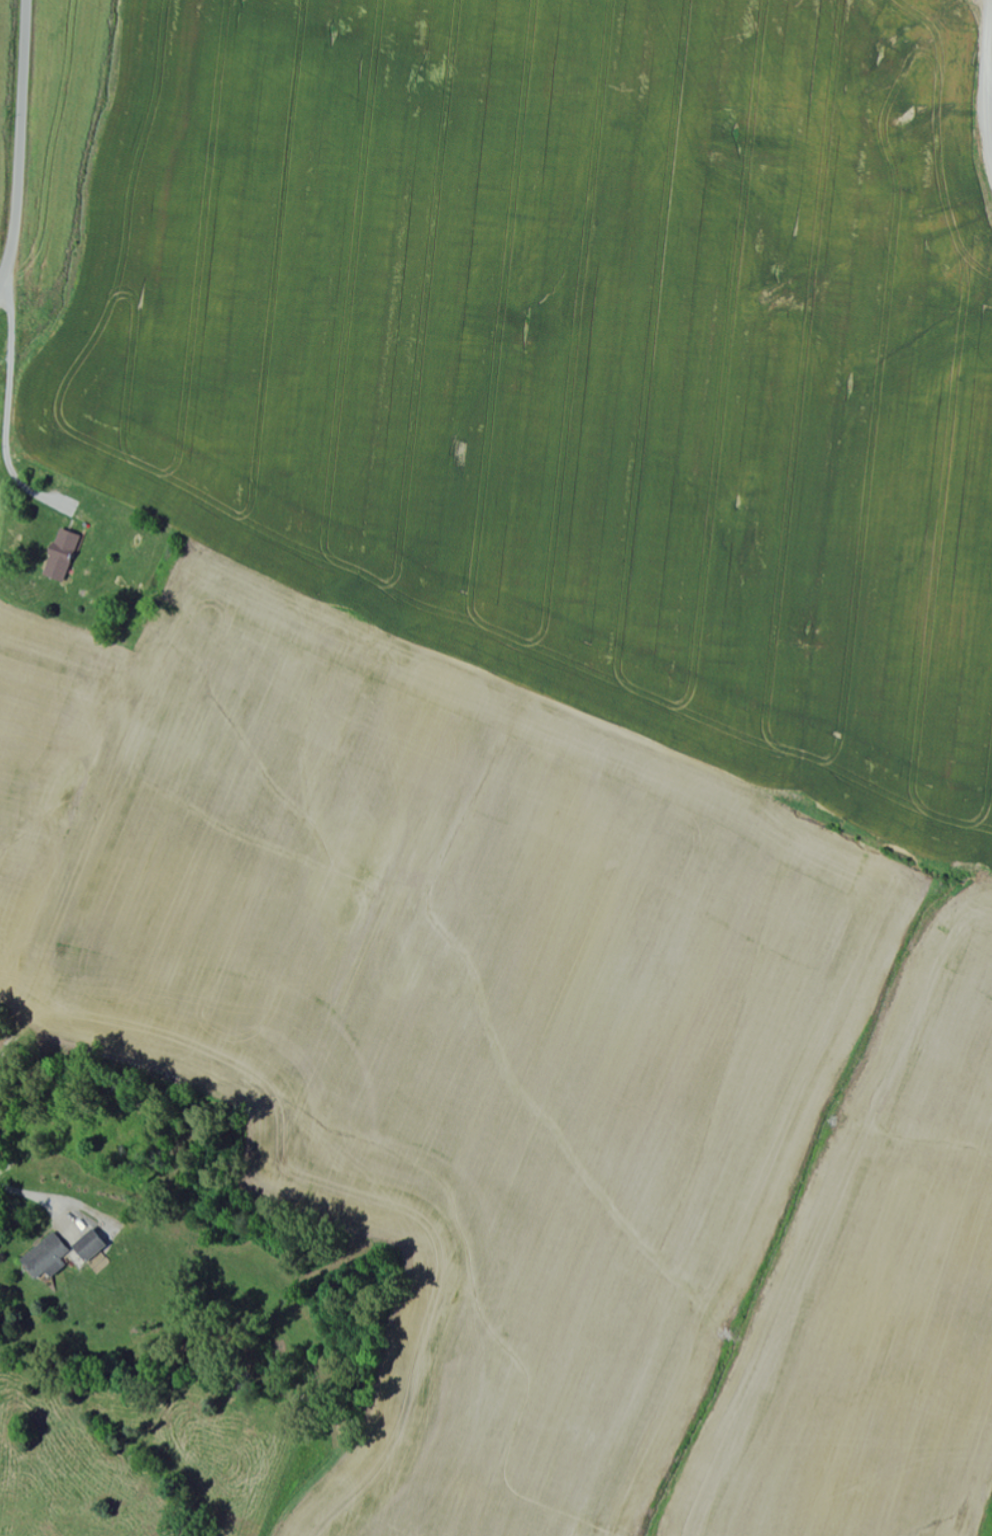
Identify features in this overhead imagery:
road: (20, 140)
building: (60, 556)
building: (46, 1257)

